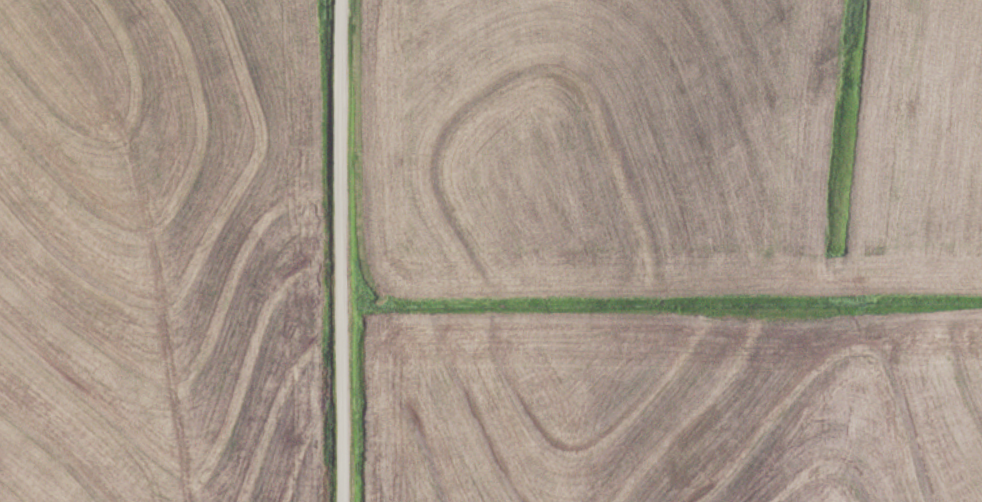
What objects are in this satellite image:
road: (336, 251)

